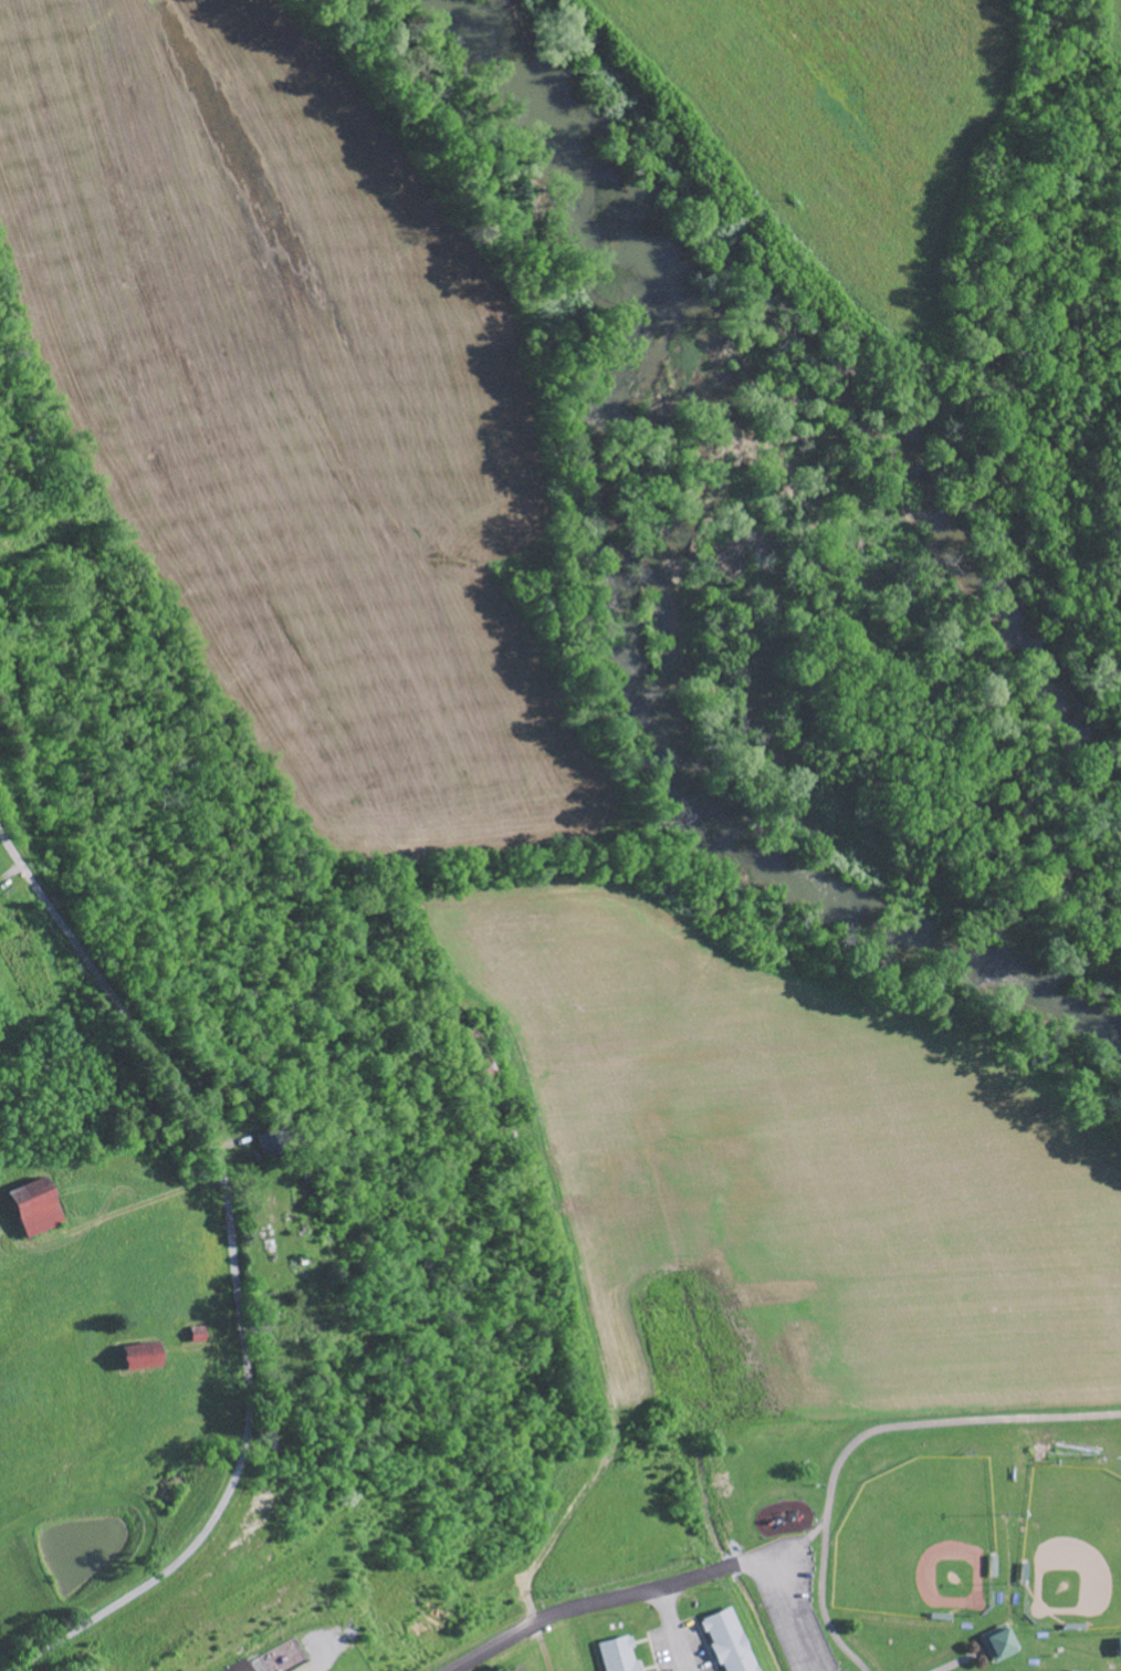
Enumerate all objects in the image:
river: (629, 624)
building: (28, 1209)
road: (232, 1275)
building: (134, 1357)
road: (940, 1420)
road: (813, 1533)
park: (946, 1533)
park: (919, 1543)
park: (1070, 1549)
road: (587, 1601)
parking lot: (792, 1601)
road: (821, 1606)
road: (673, 1628)
parking lot: (678, 1638)
building: (725, 1638)
building: (995, 1646)
building: (1117, 1647)
building: (616, 1652)
building: (239, 1665)

